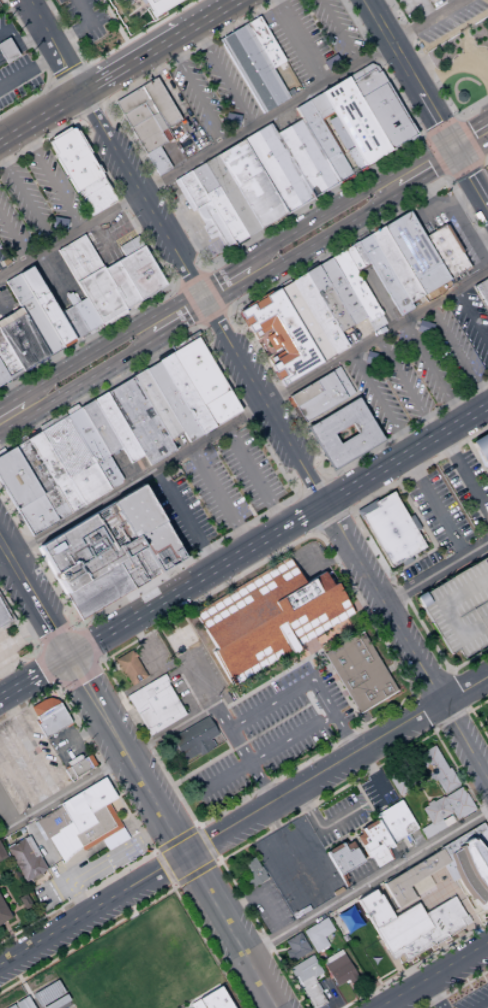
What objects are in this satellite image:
road: (457, 1)
building: (159, 6)
road: (423, 9)
road: (212, 17)
road: (425, 20)
road: (115, 21)
road: (79, 24)
road: (10, 33)
road: (339, 33)
parking lot: (311, 36)
road: (32, 37)
building: (264, 42)
road: (298, 43)
road: (15, 44)
road: (6, 47)
road: (17, 47)
building: (7, 51)
parking lot: (460, 52)
road: (151, 53)
road: (9, 54)
road: (109, 54)
road: (1, 58)
road: (41, 65)
parking lot: (14, 66)
road: (29, 68)
building: (252, 68)
road: (407, 69)
road: (69, 75)
road: (431, 75)
road: (223, 79)
road: (49, 82)
road: (101, 83)
road: (94, 84)
building: (375, 91)
parking lot: (212, 92)
road: (115, 95)
road: (196, 95)
road: (63, 100)
building: (130, 100)
road: (105, 102)
building: (160, 102)
road: (178, 105)
road: (89, 109)
building: (138, 113)
road: (41, 119)
road: (74, 120)
traffic signals: (438, 120)
building: (357, 121)
building: (144, 123)
building: (395, 125)
road: (439, 126)
road: (468, 127)
traffic signals: (469, 127)
building: (149, 132)
road: (366, 136)
building: (329, 137)
road: (468, 138)
road: (112, 143)
building: (153, 143)
road: (338, 143)
road: (453, 149)
road: (472, 150)
road: (395, 153)
building: (154, 156)
road: (174, 157)
building: (306, 158)
road: (435, 158)
building: (74, 161)
road: (94, 161)
road: (197, 162)
road: (483, 162)
building: (161, 166)
building: (278, 167)
road: (465, 169)
road: (435, 171)
traffic signals: (433, 173)
road: (465, 173)
traffic signals: (467, 177)
road: (50, 181)
building: (188, 181)
building: (252, 183)
road: (252, 183)
road: (405, 188)
building: (232, 195)
road: (461, 195)
building: (95, 196)
building: (197, 196)
road: (479, 197)
road: (345, 199)
road: (26, 201)
building: (219, 203)
parking lot: (34, 204)
road: (425, 208)
road: (486, 208)
parking lot: (191, 216)
building: (214, 222)
road: (382, 222)
road: (459, 222)
road: (14, 237)
road: (479, 237)
building: (130, 246)
road: (302, 250)
building: (417, 251)
building: (448, 251)
building: (361, 253)
road: (478, 255)
building: (354, 256)
road: (192, 259)
building: (398, 264)
building: (149, 269)
road: (52, 271)
road: (202, 273)
road: (218, 274)
building: (385, 274)
building: (139, 275)
building: (90, 276)
building: (132, 278)
road: (191, 281)
building: (356, 282)
building: (122, 284)
road: (179, 287)
building: (481, 287)
building: (342, 290)
road: (211, 291)
road: (200, 297)
road: (381, 297)
building: (329, 298)
building: (277, 300)
building: (485, 300)
road: (157, 303)
road: (190, 304)
building: (47, 306)
building: (487, 306)
building: (264, 308)
building: (96, 309)
road: (223, 309)
building: (320, 312)
building: (33, 314)
building: (86, 315)
road: (210, 315)
building: (251, 315)
road: (470, 316)
building: (307, 318)
building: (74, 322)
road: (179, 322)
road: (200, 323)
road: (239, 332)
road: (211, 341)
building: (23, 342)
road: (105, 342)
road: (76, 343)
building: (287, 345)
road: (457, 354)
building: (8, 360)
parking lot: (422, 363)
road: (432, 370)
building: (3, 375)
building: (206, 381)
building: (342, 382)
road: (76, 383)
road: (405, 387)
road: (280, 391)
building: (187, 393)
building: (304, 394)
road: (88, 395)
building: (321, 398)
building: (174, 400)
road: (8, 402)
road: (380, 402)
building: (157, 403)
road: (244, 412)
road: (247, 413)
building: (141, 420)
building: (118, 427)
building: (101, 428)
road: (411, 429)
building: (345, 434)
building: (88, 435)
building: (481, 449)
road: (3, 450)
road: (406, 456)
building: (76, 458)
building: (56, 470)
road: (464, 476)
road: (254, 477)
building: (43, 478)
road: (332, 478)
parking lot: (216, 488)
road: (312, 488)
building: (24, 492)
road: (340, 493)
road: (220, 498)
road: (290, 499)
parking lot: (450, 500)
road: (433, 506)
road: (325, 507)
road: (303, 515)
road: (300, 519)
road: (330, 519)
road: (183, 520)
building: (390, 529)
road: (313, 532)
road: (366, 539)
road: (32, 547)
building: (112, 550)
road: (3, 559)
road: (186, 561)
road: (435, 571)
road: (171, 596)
road: (33, 603)
road: (8, 605)
building: (459, 609)
parking lot: (459, 609)
road: (59, 613)
building: (3, 615)
building: (268, 618)
road: (51, 632)
road: (22, 635)
building: (180, 639)
road: (92, 645)
road: (144, 647)
road: (33, 659)
traffic signals: (66, 660)
road: (15, 663)
building: (130, 667)
road: (389, 667)
building: (359, 672)
road: (44, 673)
road: (448, 673)
road: (39, 675)
road: (77, 675)
road: (307, 681)
road: (335, 682)
road: (431, 689)
road: (204, 691)
road: (456, 694)
road: (408, 695)
road: (6, 696)
road: (242, 696)
road: (412, 696)
building: (154, 705)
road: (468, 710)
road: (423, 713)
building: (49, 717)
road: (474, 717)
road: (449, 719)
building: (487, 723)
road: (168, 730)
road: (433, 731)
parking lot: (271, 735)
road: (80, 736)
road: (487, 736)
road: (288, 738)
building: (192, 739)
road: (465, 745)
road: (236, 746)
road: (30, 747)
road: (126, 760)
parking lot: (26, 763)
building: (79, 767)
road: (338, 769)
building: (435, 769)
road: (486, 775)
road: (222, 776)
road: (374, 779)
road: (16, 783)
road: (259, 785)
road: (61, 795)
building: (457, 803)
parking lot: (5, 807)
road: (8, 810)
road: (298, 813)
building: (93, 816)
building: (434, 816)
road: (130, 819)
building: (394, 821)
road: (196, 826)
road: (325, 826)
building: (58, 832)
building: (371, 839)
road: (175, 840)
road: (205, 844)
road: (48, 850)
building: (482, 851)
road: (153, 852)
building: (2, 854)
building: (342, 857)
building: (25, 858)
road: (218, 860)
road: (294, 860)
road: (101, 864)
parking lot: (296, 867)
road: (163, 868)
building: (251, 871)
road: (194, 872)
building: (470, 872)
building: (406, 882)
road: (366, 883)
building: (420, 885)
road: (173, 886)
road: (259, 893)
road: (7, 895)
building: (24, 901)
road: (147, 902)
building: (373, 909)
road: (466, 909)
building: (4, 913)
road: (94, 914)
road: (13, 915)
building: (464, 920)
building: (434, 928)
building: (402, 929)
road: (231, 933)
building: (317, 934)
road: (13, 939)
building: (293, 947)
road: (414, 964)
park: (121, 965)
building: (338, 968)
building: (196, 977)
road: (437, 978)
building: (306, 980)
building: (205, 991)
building: (50, 996)
road: (432, 997)
parking lot: (472, 998)
building: (215, 1001)
building: (22, 1003)
road: (480, 1003)
building: (11, 1006)
building: (228, 1006)

